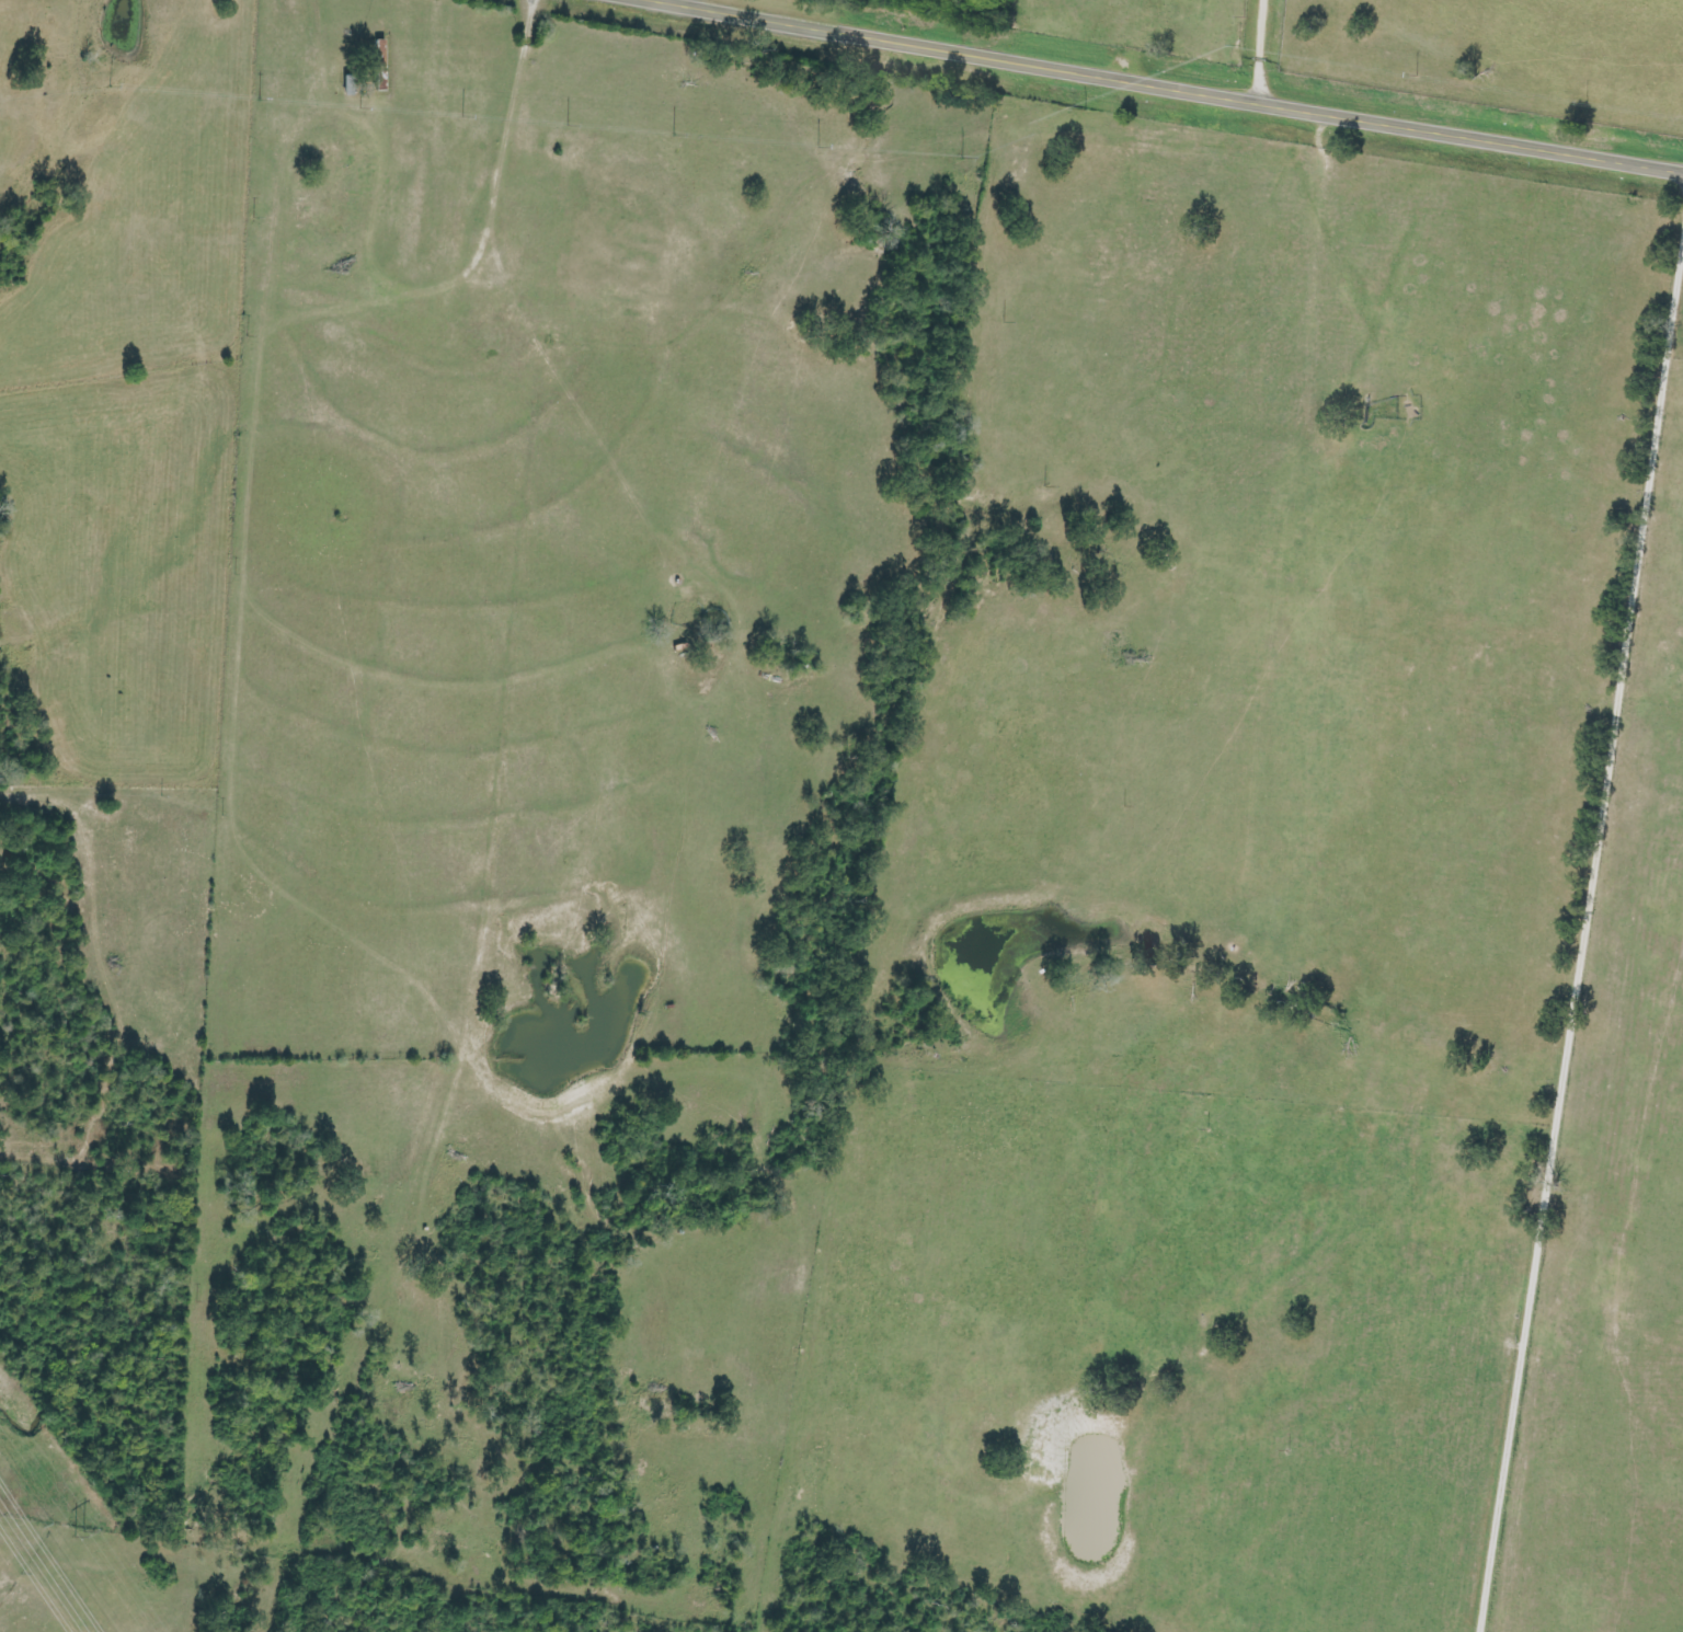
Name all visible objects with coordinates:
road: (1250, 50)
road: (1166, 87)
road: (1588, 961)
power tower: (58, 1531)

